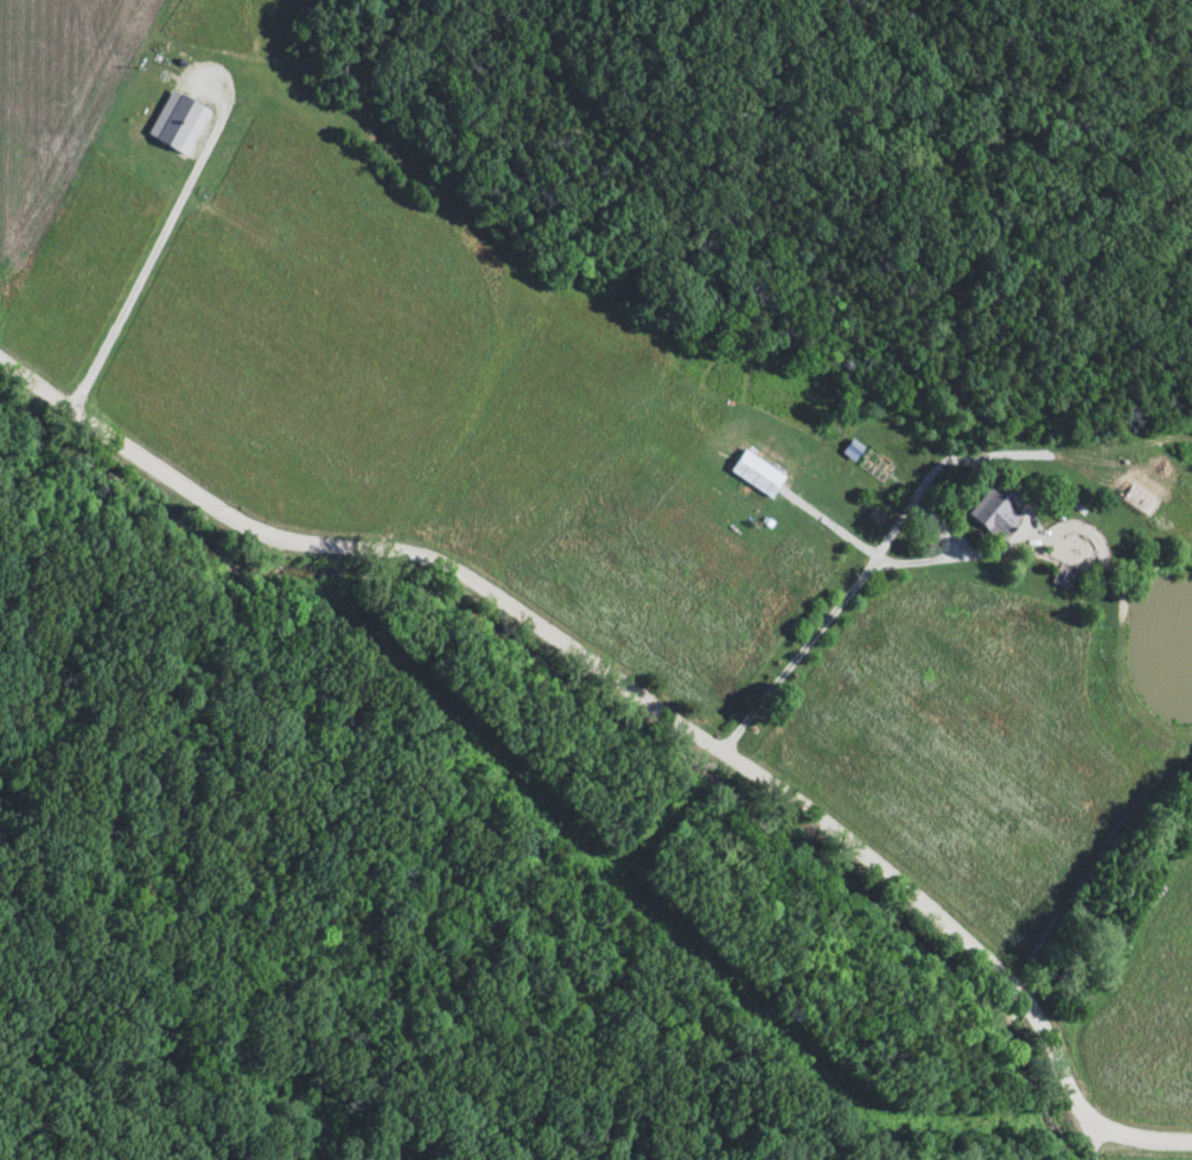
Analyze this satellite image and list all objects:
road: (162, 237)
building: (758, 477)
building: (994, 516)
road: (954, 561)
road: (861, 585)
road: (640, 699)
road: (1092, 1142)

